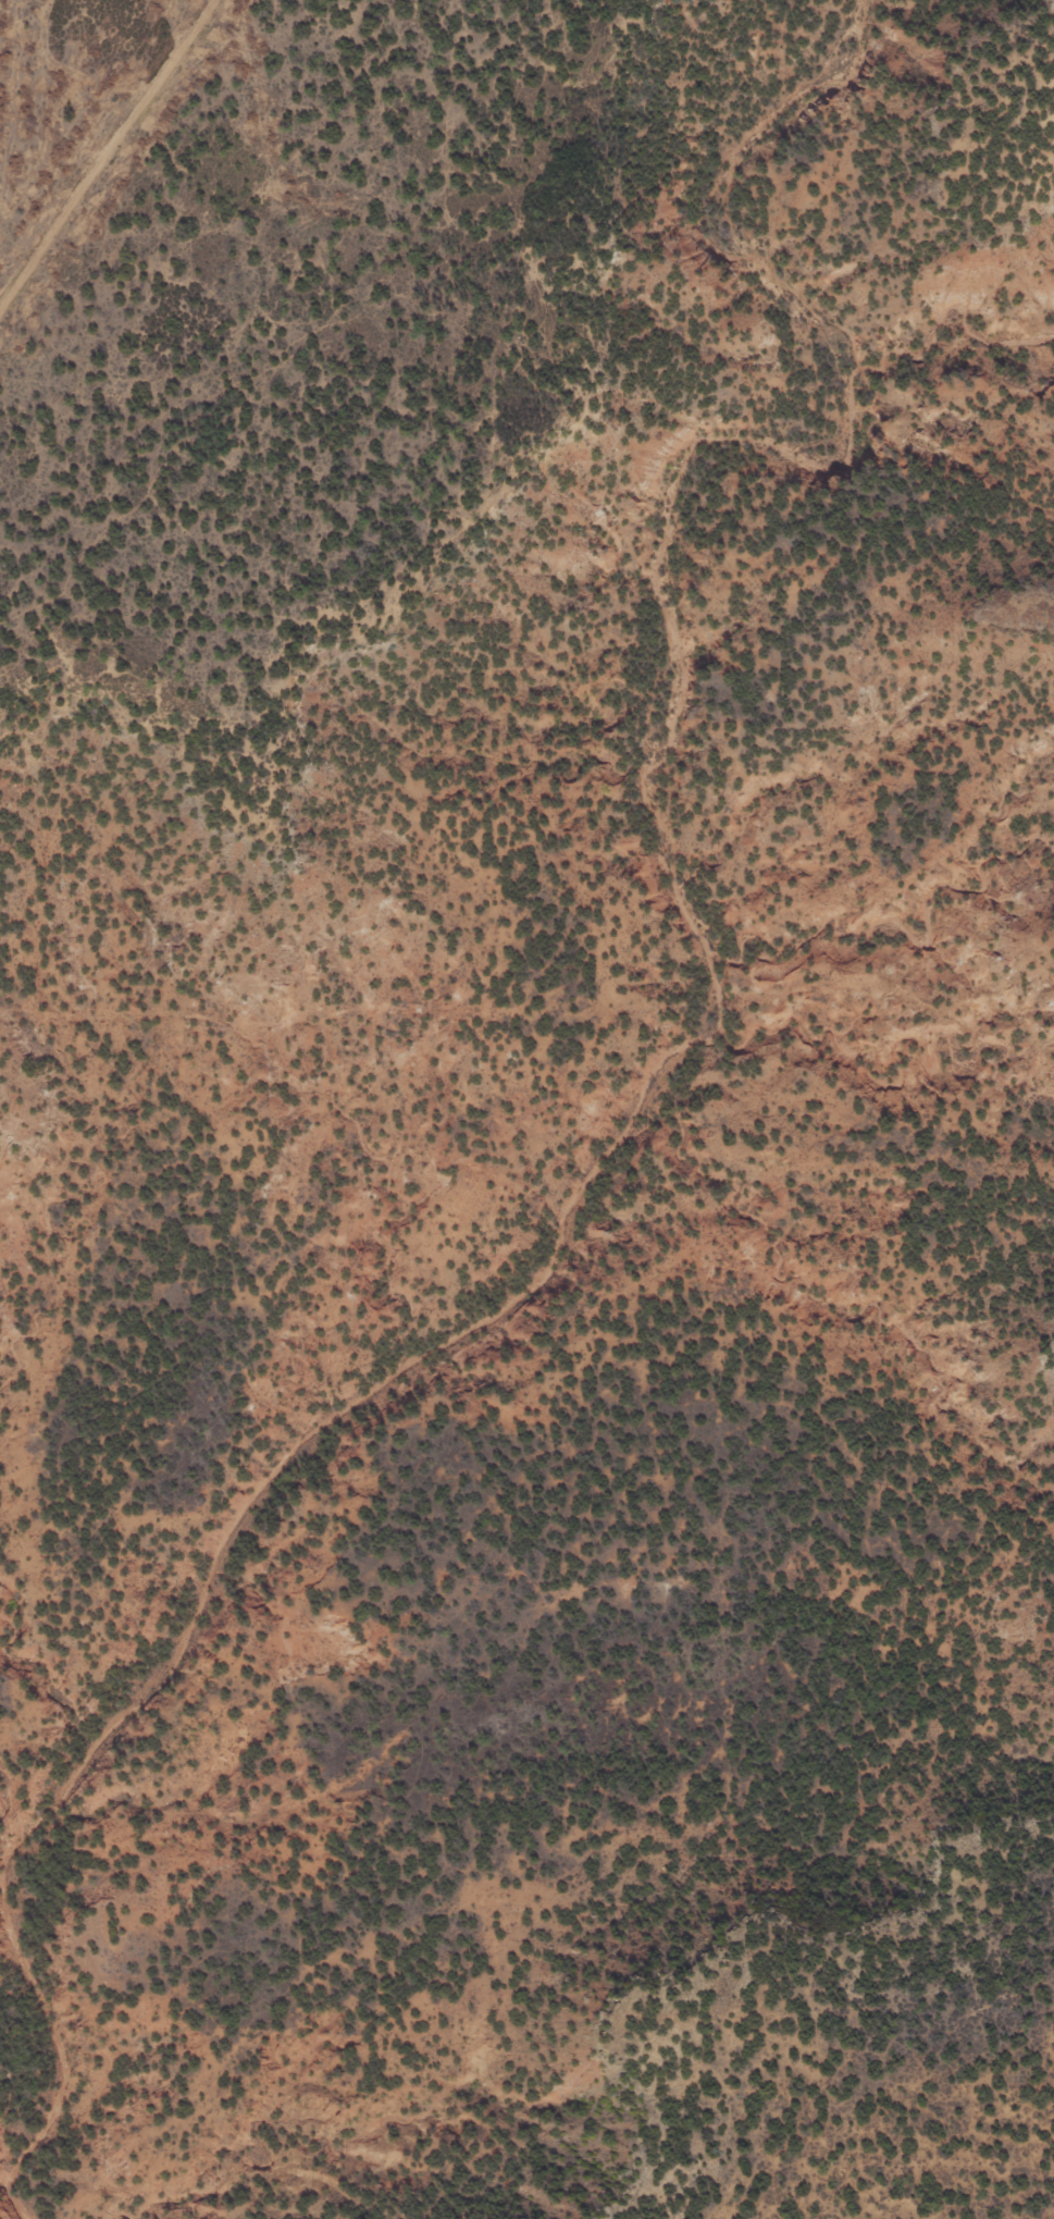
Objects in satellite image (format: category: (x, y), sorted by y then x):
road: (1045, 2205)

